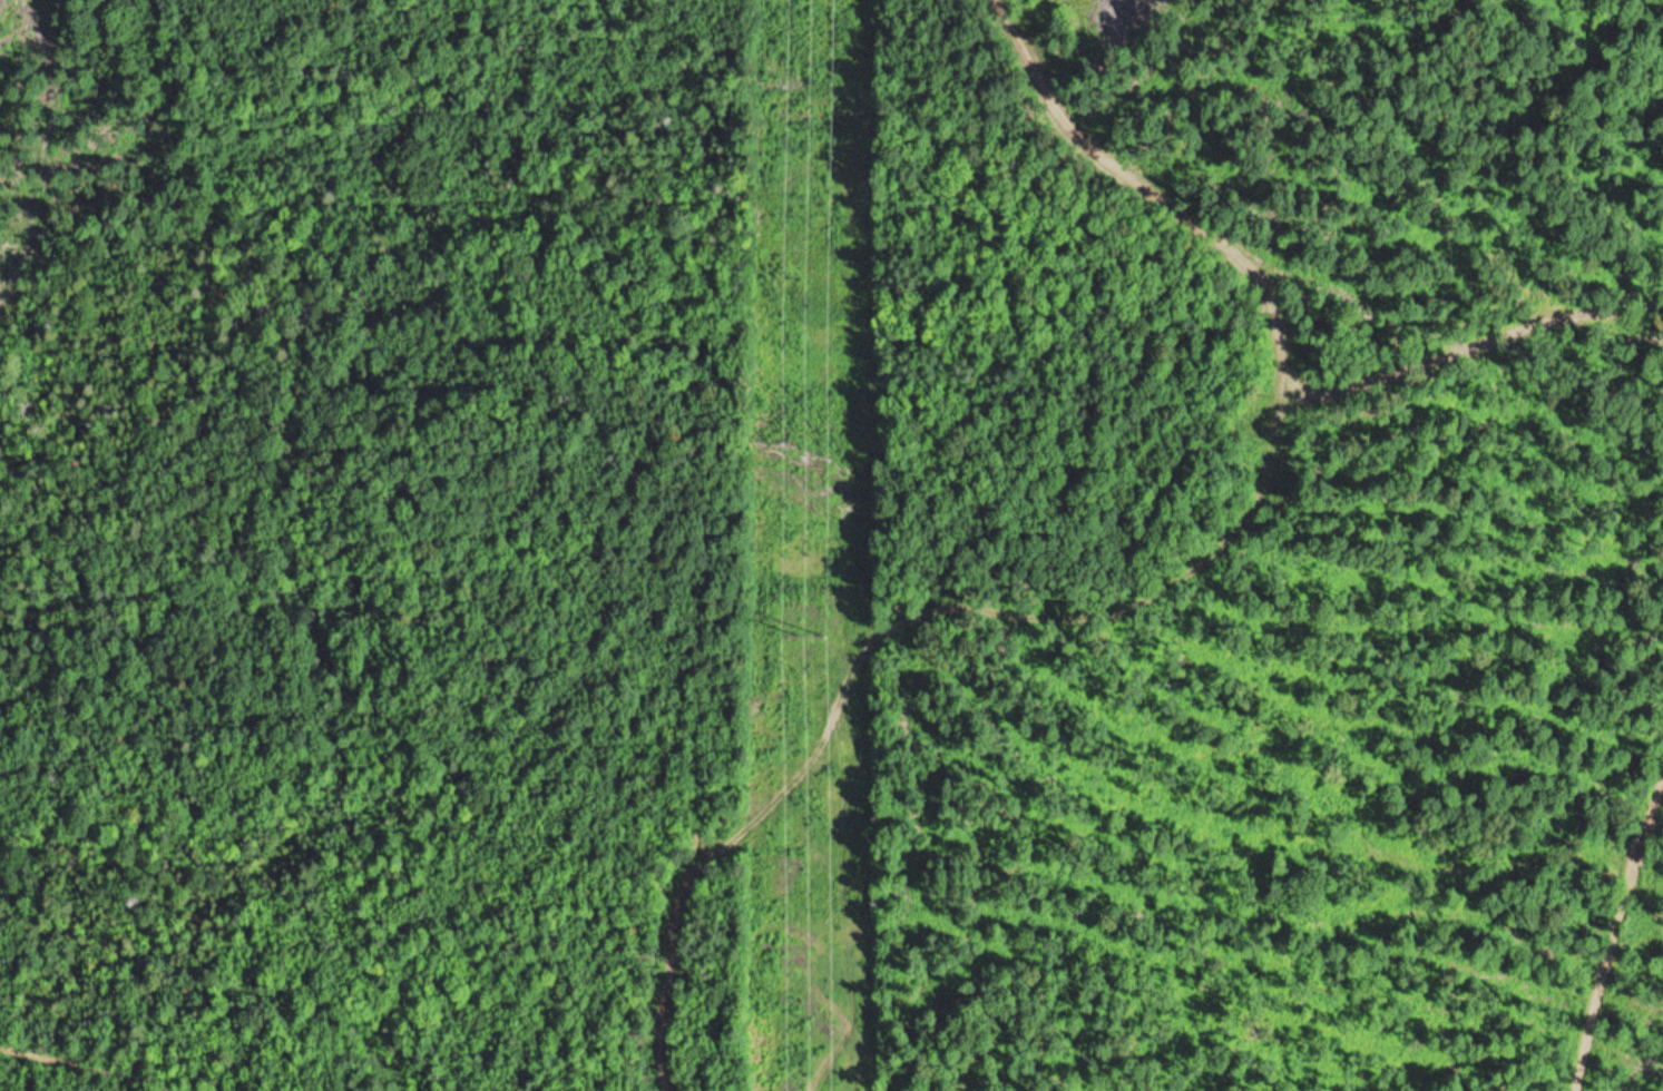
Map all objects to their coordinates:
power tower: (814, 635)
road: (847, 845)
road: (1616, 930)
road: (82, 1074)

